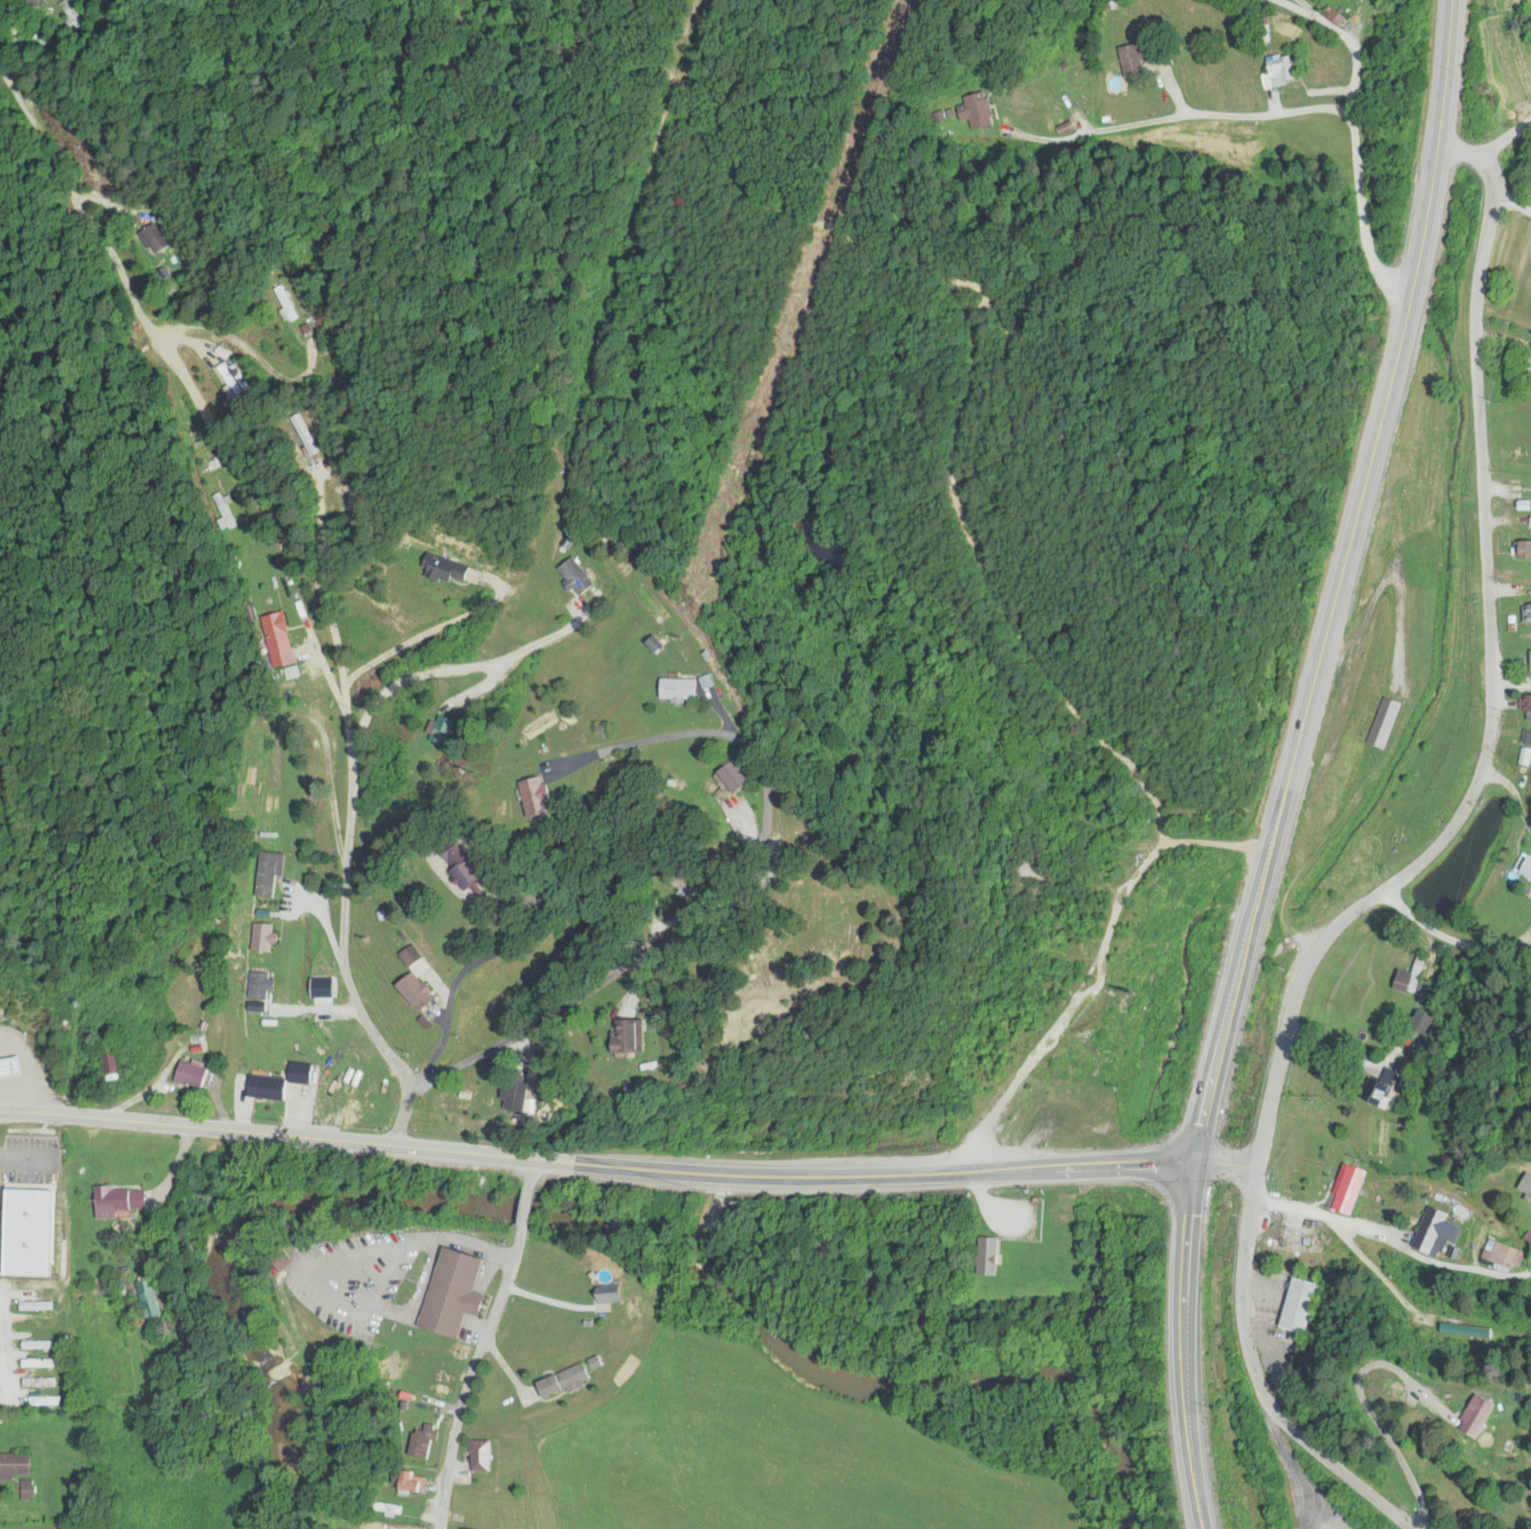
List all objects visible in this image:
road: (1509, 133)
road: (1342, 582)
park: (1386, 659)
road: (404, 714)
road: (1408, 857)
road: (161, 1121)
road: (1229, 1164)
road: (758, 1173)
road: (1189, 1213)
road: (3, 1292)
road: (487, 1343)
road: (1193, 1398)

